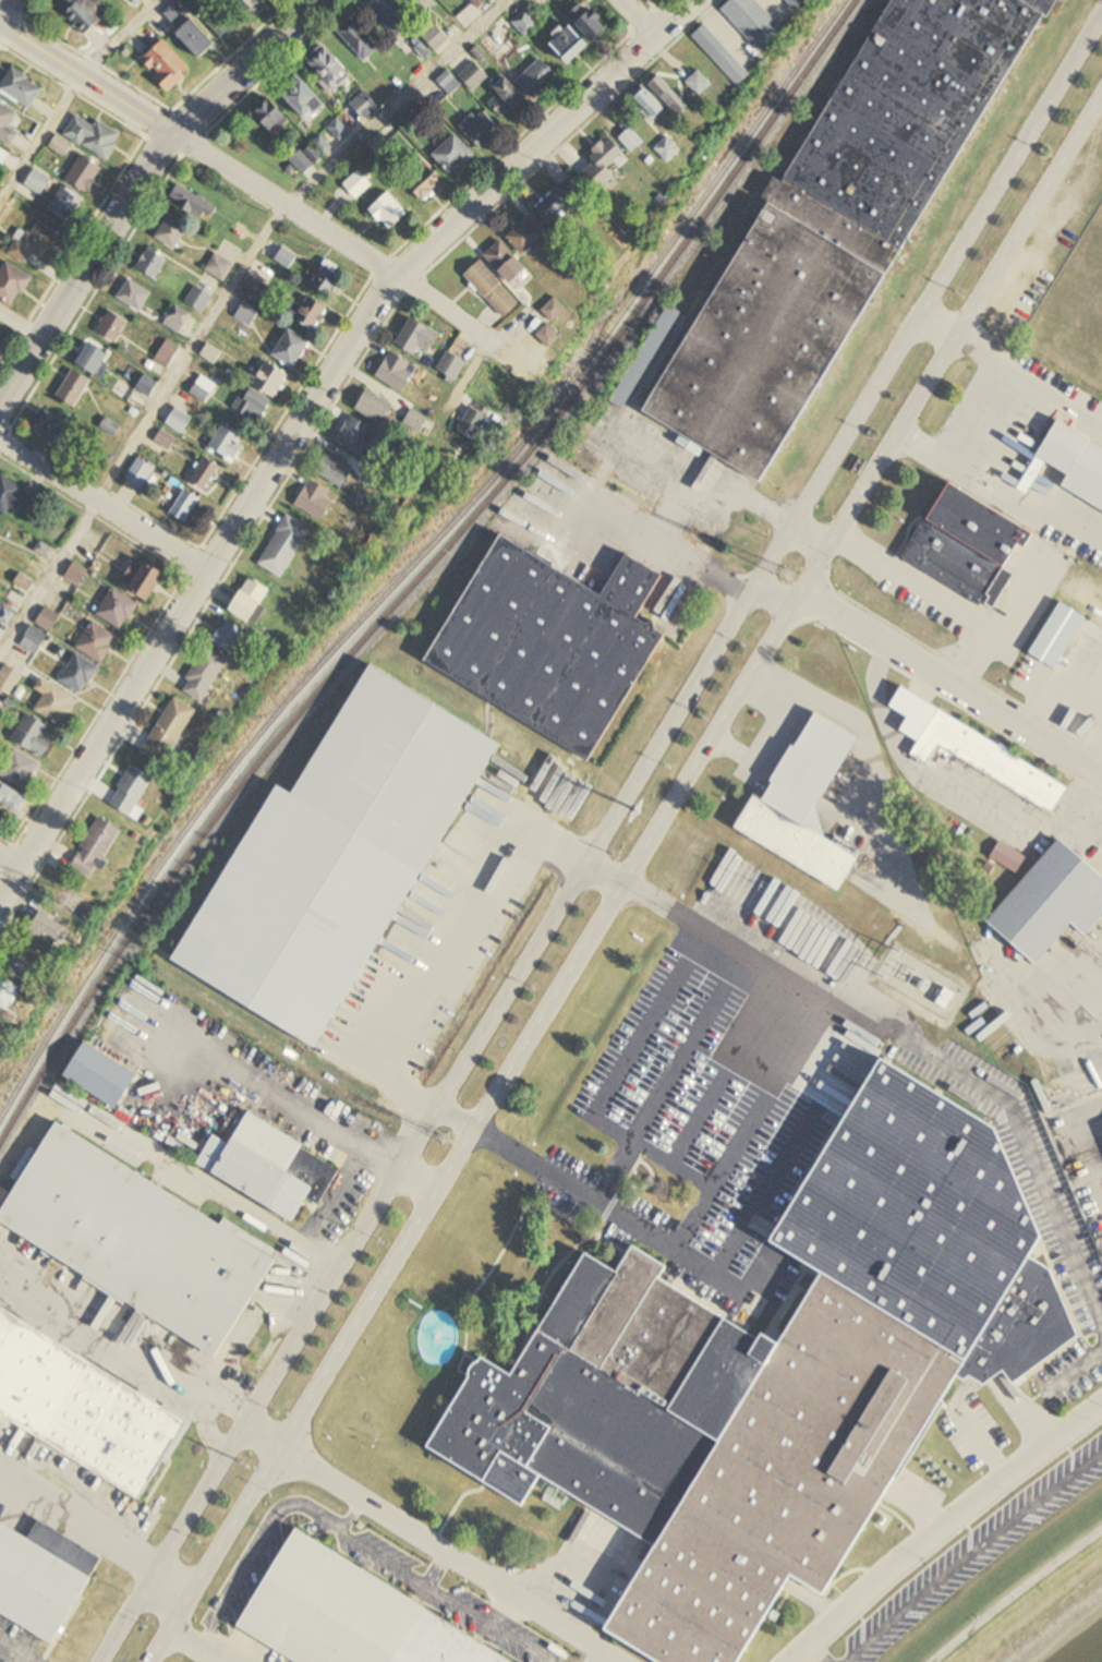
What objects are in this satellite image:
building: (555, 0)
building: (137, 1)
building: (424, 3)
building: (800, 3)
building: (199, 7)
road: (7, 9)
building: (387, 16)
building: (84, 19)
building: (591, 22)
building: (225, 23)
road: (640, 23)
building: (524, 24)
building: (756, 24)
building: (435, 38)
building: (197, 39)
building: (356, 40)
building: (495, 44)
building: (570, 45)
building: (724, 57)
building: (167, 67)
building: (328, 70)
building: (473, 76)
building: (537, 80)
building: (448, 83)
road: (87, 84)
building: (702, 84)
building: (380, 88)
building: (22, 89)
road: (69, 93)
building: (671, 96)
building: (507, 97)
building: (305, 101)
building: (652, 105)
building: (364, 106)
building: (273, 117)
building: (8, 124)
building: (340, 128)
building: (481, 129)
building: (93, 137)
building: (633, 141)
building: (673, 150)
power tower: (1043, 152)
building: (312, 155)
building: (452, 155)
building: (3, 157)
building: (602, 164)
building: (84, 174)
building: (38, 182)
building: (358, 184)
building: (426, 184)
road: (144, 186)
building: (190, 202)
building: (561, 202)
building: (65, 205)
building: (389, 212)
building: (841, 224)
building: (171, 232)
building: (526, 236)
building: (34, 244)
road: (360, 253)
building: (152, 264)
building: (508, 264)
building: (219, 267)
building: (12, 284)
building: (253, 289)
building: (492, 289)
power tower: (957, 293)
building: (134, 296)
building: (198, 299)
road: (225, 300)
road: (928, 303)
building: (310, 311)
building: (556, 311)
building: (247, 313)
building: (177, 320)
road: (938, 325)
building: (111, 327)
building: (417, 337)
building: (552, 337)
road: (949, 344)
building: (291, 349)
building: (167, 354)
building: (646, 357)
building: (93, 360)
building: (451, 366)
building: (397, 372)
building: (271, 381)
building: (147, 386)
building: (73, 388)
building: (203, 389)
building: (252, 405)
building: (375, 408)
road: (305, 417)
building: (179, 421)
building: (416, 421)
building: (474, 424)
building: (55, 430)
building: (356, 436)
power tower: (870, 436)
building: (228, 443)
building: (161, 444)
building: (1076, 461)
building: (335, 472)
building: (143, 475)
building: (205, 475)
building: (13, 496)
building: (315, 501)
road: (104, 506)
building: (185, 506)
road: (810, 538)
building: (966, 544)
building: (286, 546)
building: (44, 550)
railway: (419, 558)
railway: (426, 569)
building: (75, 574)
power tower: (786, 575)
building: (146, 578)
building: (14, 599)
building: (252, 600)
road: (770, 601)
road: (795, 603)
building: (118, 609)
building: (73, 610)
building: (47, 619)
building: (231, 636)
building: (1057, 636)
building: (33, 639)
building: (552, 641)
building: (97, 642)
building: (80, 674)
building: (206, 675)
building: (9, 678)
road: (952, 685)
building: (1, 704)
building: (57, 706)
building: (170, 732)
building: (34, 736)
building: (976, 751)
building: (19, 768)
building: (135, 792)
building: (803, 804)
power tower: (639, 812)
building: (98, 846)
building: (338, 857)
road: (13, 864)
road: (602, 877)
power tower: (760, 884)
building: (1051, 901)
power tower: (75, 902)
building: (47, 932)
road: (437, 950)
power tower: (895, 964)
building: (23, 968)
power substation: (918, 981)
building: (10, 998)
road: (500, 1004)
road: (923, 1056)
building: (100, 1073)
road: (661, 1076)
road: (455, 1119)
road: (468, 1137)
power tower: (440, 1140)
building: (259, 1165)
road: (415, 1184)
building: (136, 1239)
road: (713, 1258)
building: (436, 1338)
building: (782, 1374)
building: (83, 1408)
road: (1030, 1426)
power tower: (244, 1465)
road: (943, 1530)
road: (172, 1541)
road: (429, 1542)
road: (965, 1550)
building: (41, 1577)
road: (167, 1591)
road: (1016, 1594)
building: (348, 1614)
road: (812, 1654)

